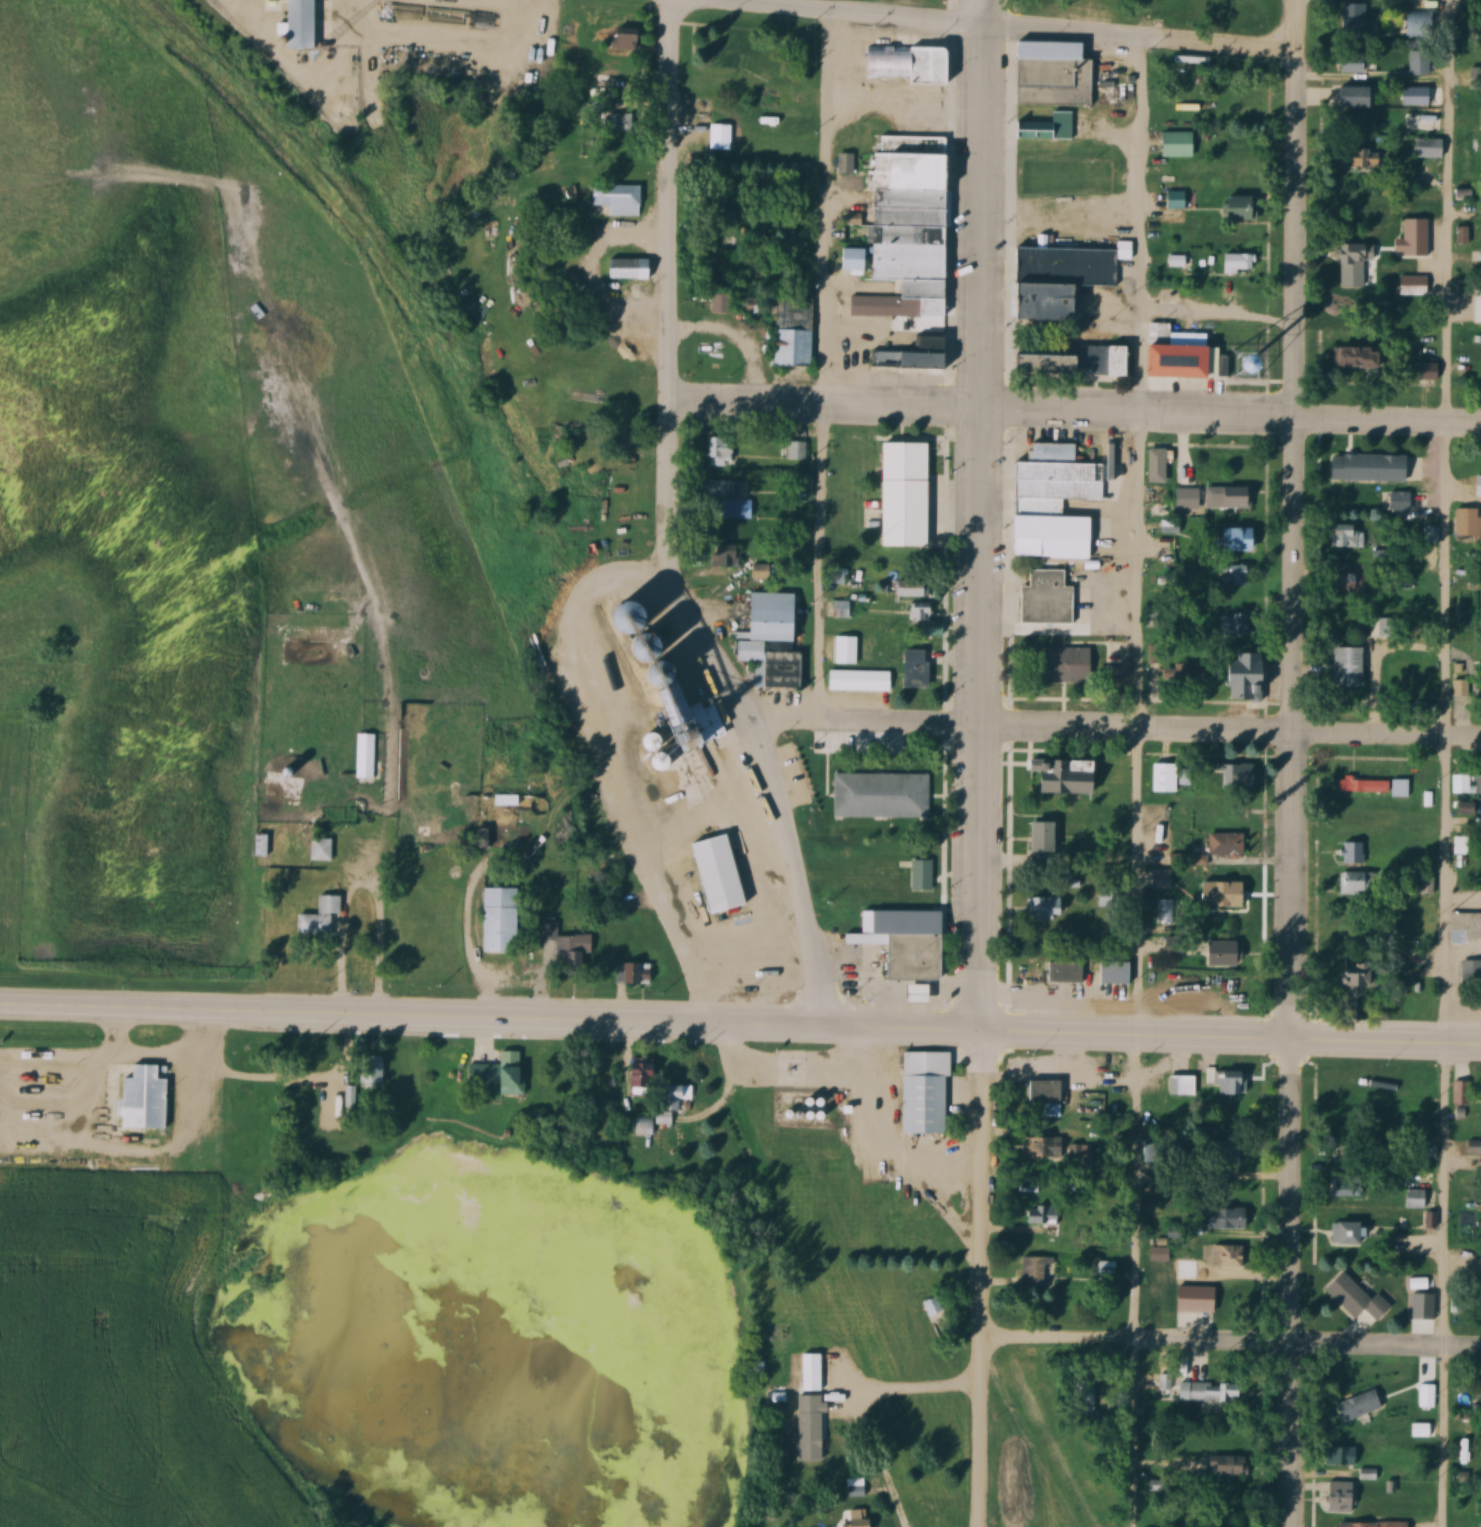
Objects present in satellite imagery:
road: (861, 15)
building: (1355, 18)
building: (308, 23)
building: (1419, 23)
building: (628, 38)
road: (1139, 42)
building: (725, 53)
building: (901, 62)
building: (1355, 62)
building: (1420, 62)
building: (1056, 73)
building: (615, 75)
road: (1370, 76)
building: (1418, 95)
building: (1252, 96)
building: (1358, 96)
building: (1419, 121)
building: (622, 122)
building: (1050, 127)
building: (1178, 144)
building: (1430, 147)
building: (1361, 155)
building: (1160, 176)
building: (618, 199)
building: (1175, 200)
building: (1243, 208)
building: (910, 214)
building: (1414, 238)
building: (1350, 254)
building: (631, 269)
building: (1065, 278)
building: (1414, 286)
building: (1355, 291)
building: (701, 299)
building: (1478, 300)
building: (875, 305)
building: (794, 347)
building: (915, 355)
building: (1361, 357)
building: (1184, 360)
building: (1071, 363)
road: (823, 366)
road: (826, 407)
road: (1231, 415)
road: (670, 449)
building: (797, 450)
building: (723, 451)
building: (1157, 465)
building: (1369, 467)
building: (908, 476)
building: (721, 488)
building: (1228, 497)
building: (1188, 498)
building: (1055, 499)
building: (1397, 500)
building: (1159, 510)
road: (979, 517)
road: (1290, 518)
road: (1444, 521)
building: (1469, 522)
building: (1347, 535)
building: (1240, 539)
road: (1135, 573)
building: (1239, 575)
building: (1350, 578)
building: (915, 588)
building: (1048, 598)
building: (920, 611)
building: (1233, 624)
building: (934, 627)
building: (1382, 627)
building: (775, 641)
building: (1064, 664)
building: (1351, 666)
building: (918, 667)
building: (1183, 674)
building: (1249, 674)
building: (861, 680)
building: (1459, 688)
road: (858, 723)
road: (1228, 734)
building: (364, 755)
building: (1234, 775)
building: (1069, 776)
building: (1166, 777)
building: (1460, 784)
building: (1478, 784)
building: (1376, 787)
building: (882, 796)
building: (508, 800)
building: (1467, 808)
building: (1047, 839)
building: (1227, 844)
building: (261, 845)
building: (1461, 845)
building: (322, 849)
building: (1353, 853)
building: (723, 874)
building: (923, 878)
building: (1162, 879)
building: (1359, 883)
building: (1226, 894)
building: (1049, 908)
building: (614, 909)
building: (321, 917)
building: (502, 920)
building: (1466, 926)
building: (907, 942)
building: (571, 949)
road: (804, 952)
building: (1226, 953)
building: (1059, 972)
building: (1116, 972)
building: (1472, 972)
building: (635, 973)
building: (1359, 974)
road: (490, 1021)
road: (1136, 1036)
road: (1386, 1041)
building: (608, 1069)
building: (374, 1071)
building: (501, 1073)
building: (642, 1076)
building: (1231, 1083)
building: (1182, 1085)
building: (1046, 1091)
building: (926, 1092)
building: (677, 1095)
building: (351, 1100)
building: (146, 1101)
building: (1474, 1147)
building: (1046, 1148)
building: (1232, 1151)
building: (1347, 1188)
building: (1419, 1198)
building: (1043, 1215)
building: (1350, 1233)
building: (1228, 1255)
building: (1037, 1272)
road: (981, 1280)
road: (1291, 1282)
airport: (123, 1294)
building: (1359, 1299)
building: (1461, 1304)
road: (1231, 1345)
building: (814, 1372)
building: (1211, 1392)
road: (856, 1401)
building: (1360, 1406)
building: (809, 1416)
road: (1129, 1435)
road: (1441, 1438)
building: (1347, 1457)
building: (1229, 1465)
building: (1343, 1497)
building: (860, 1519)
building: (1359, 1525)

